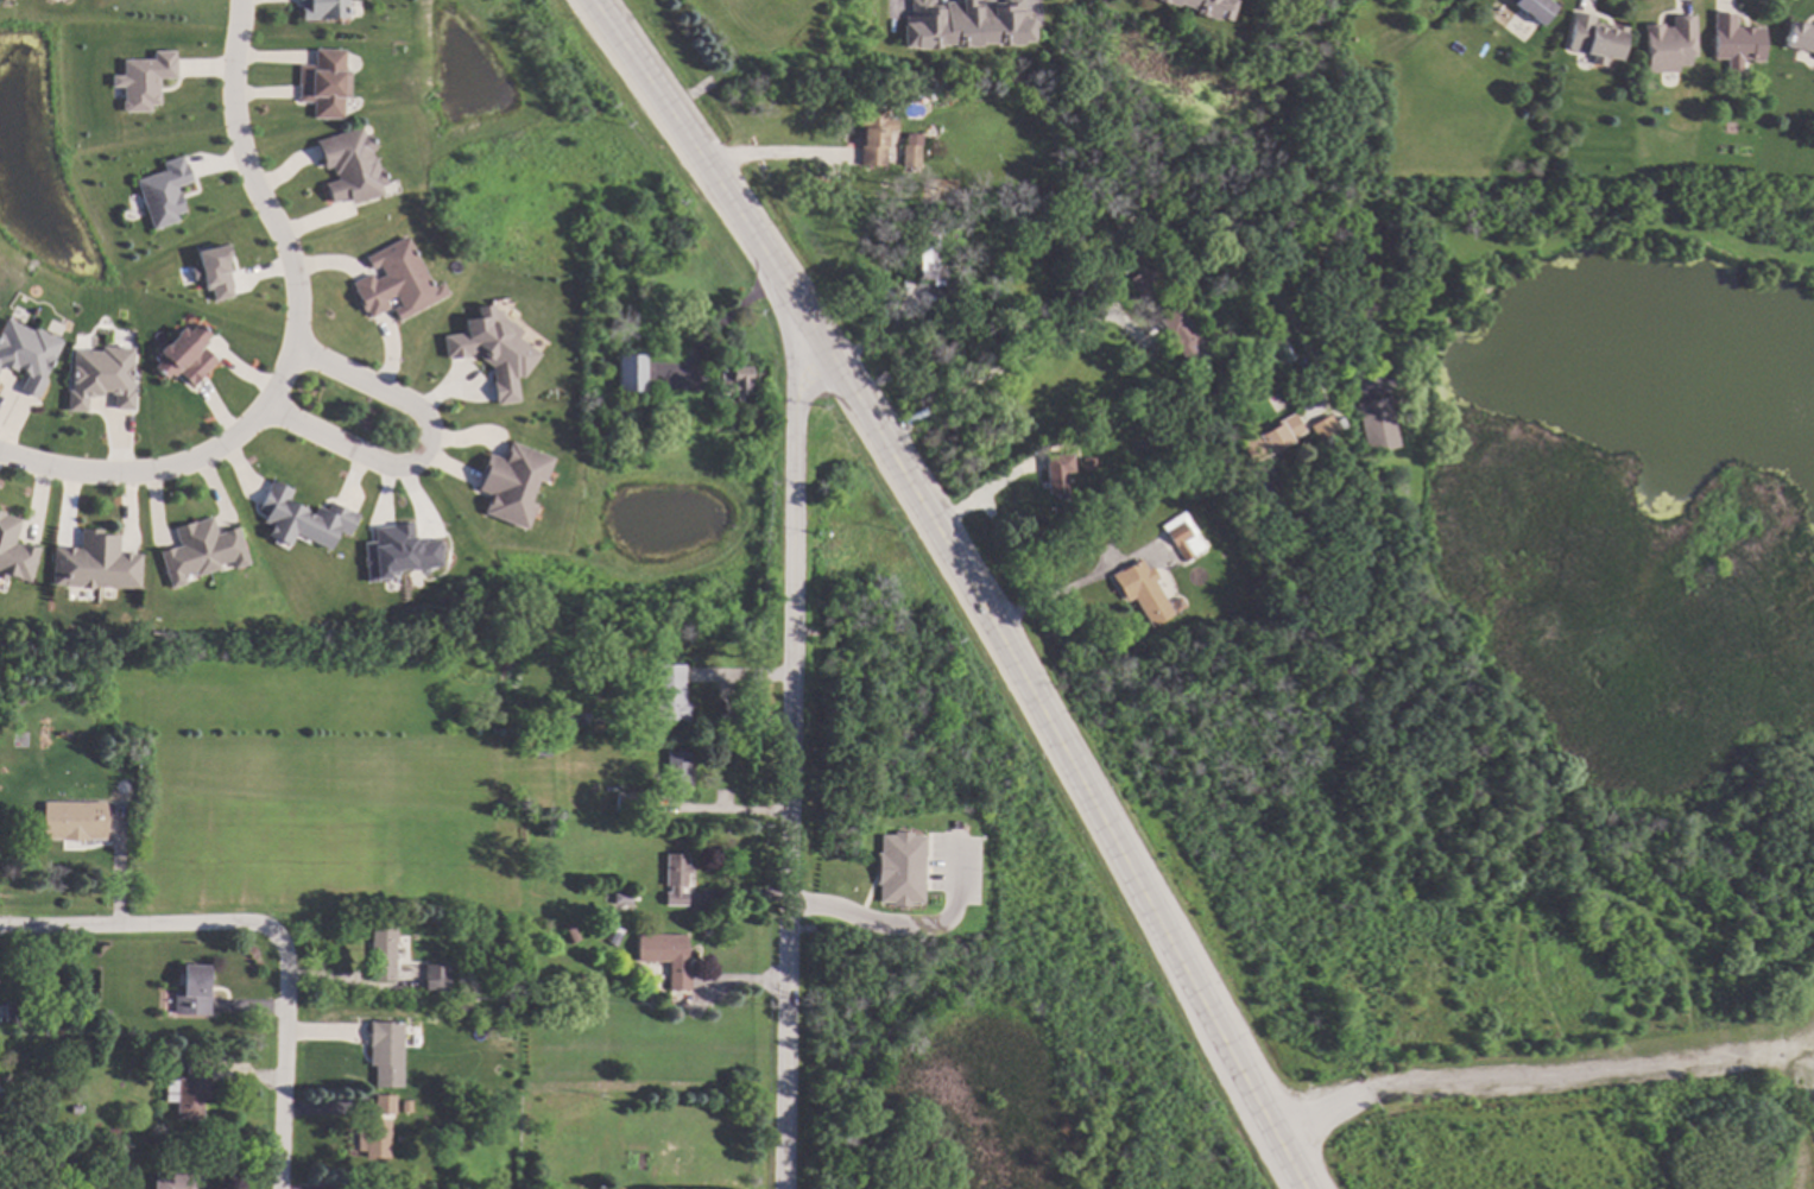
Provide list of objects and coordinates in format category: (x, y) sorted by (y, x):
building: (325, 7)
building: (1203, 7)
building: (1530, 8)
building: (965, 25)
building: (1797, 38)
building: (1591, 39)
building: (1732, 39)
building: (1667, 44)
building: (143, 81)
building: (328, 83)
building: (873, 137)
building: (909, 156)
road: (766, 157)
building: (354, 166)
building: (163, 192)
road: (284, 241)
road: (1108, 247)
building: (925, 257)
building: (213, 272)
building: (398, 280)
building: (1137, 285)
building: (943, 295)
road: (719, 327)
building: (1182, 337)
building: (492, 350)
building: (27, 352)
building: (188, 352)
building: (633, 372)
building: (103, 375)
building: (738, 381)
building: (675, 413)
building: (1336, 423)
building: (1376, 424)
building: (1321, 428)
building: (1269, 438)
road: (430, 450)
building: (1310, 467)
road: (102, 476)
building: (1056, 479)
building: (513, 482)
road: (992, 487)
building: (305, 517)
building: (1178, 540)
building: (14, 550)
building: (203, 550)
building: (397, 552)
building: (97, 562)
road: (968, 582)
building: (1140, 592)
road: (1053, 596)
building: (672, 691)
road: (722, 700)
building: (586, 717)
building: (544, 750)
road: (789, 760)
building: (678, 770)
building: (125, 796)
building: (628, 802)
building: (77, 820)
building: (898, 869)
building: (678, 878)
building: (625, 897)
road: (147, 923)
road: (905, 925)
building: (574, 934)
building: (385, 953)
building: (669, 956)
building: (438, 978)
building: (192, 992)
building: (17, 1012)
building: (102, 1016)
building: (387, 1051)
road: (282, 1069)
road: (1570, 1070)
building: (191, 1089)
building: (385, 1103)
building: (80, 1108)
road: (1325, 1109)
building: (115, 1133)
building: (375, 1138)
building: (50, 1159)
building: (179, 1181)
building: (620, 1187)

